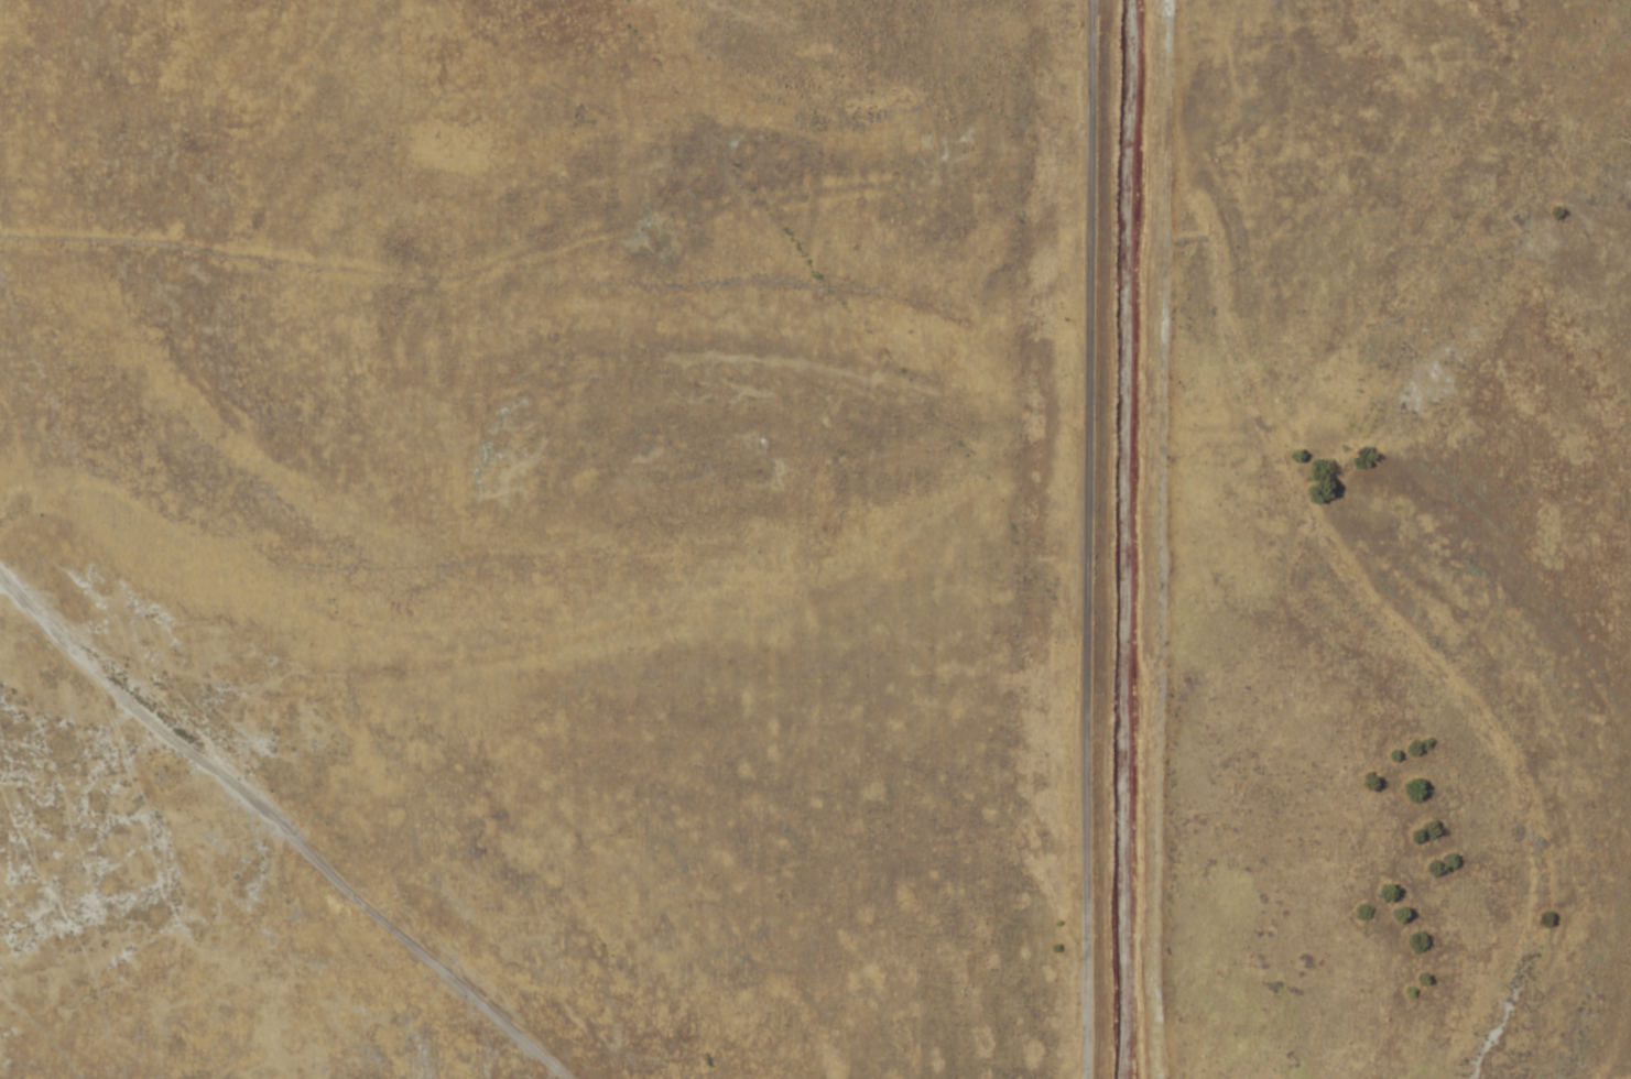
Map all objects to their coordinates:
road: (1076, 539)
road: (1243, 539)
road: (324, 808)

